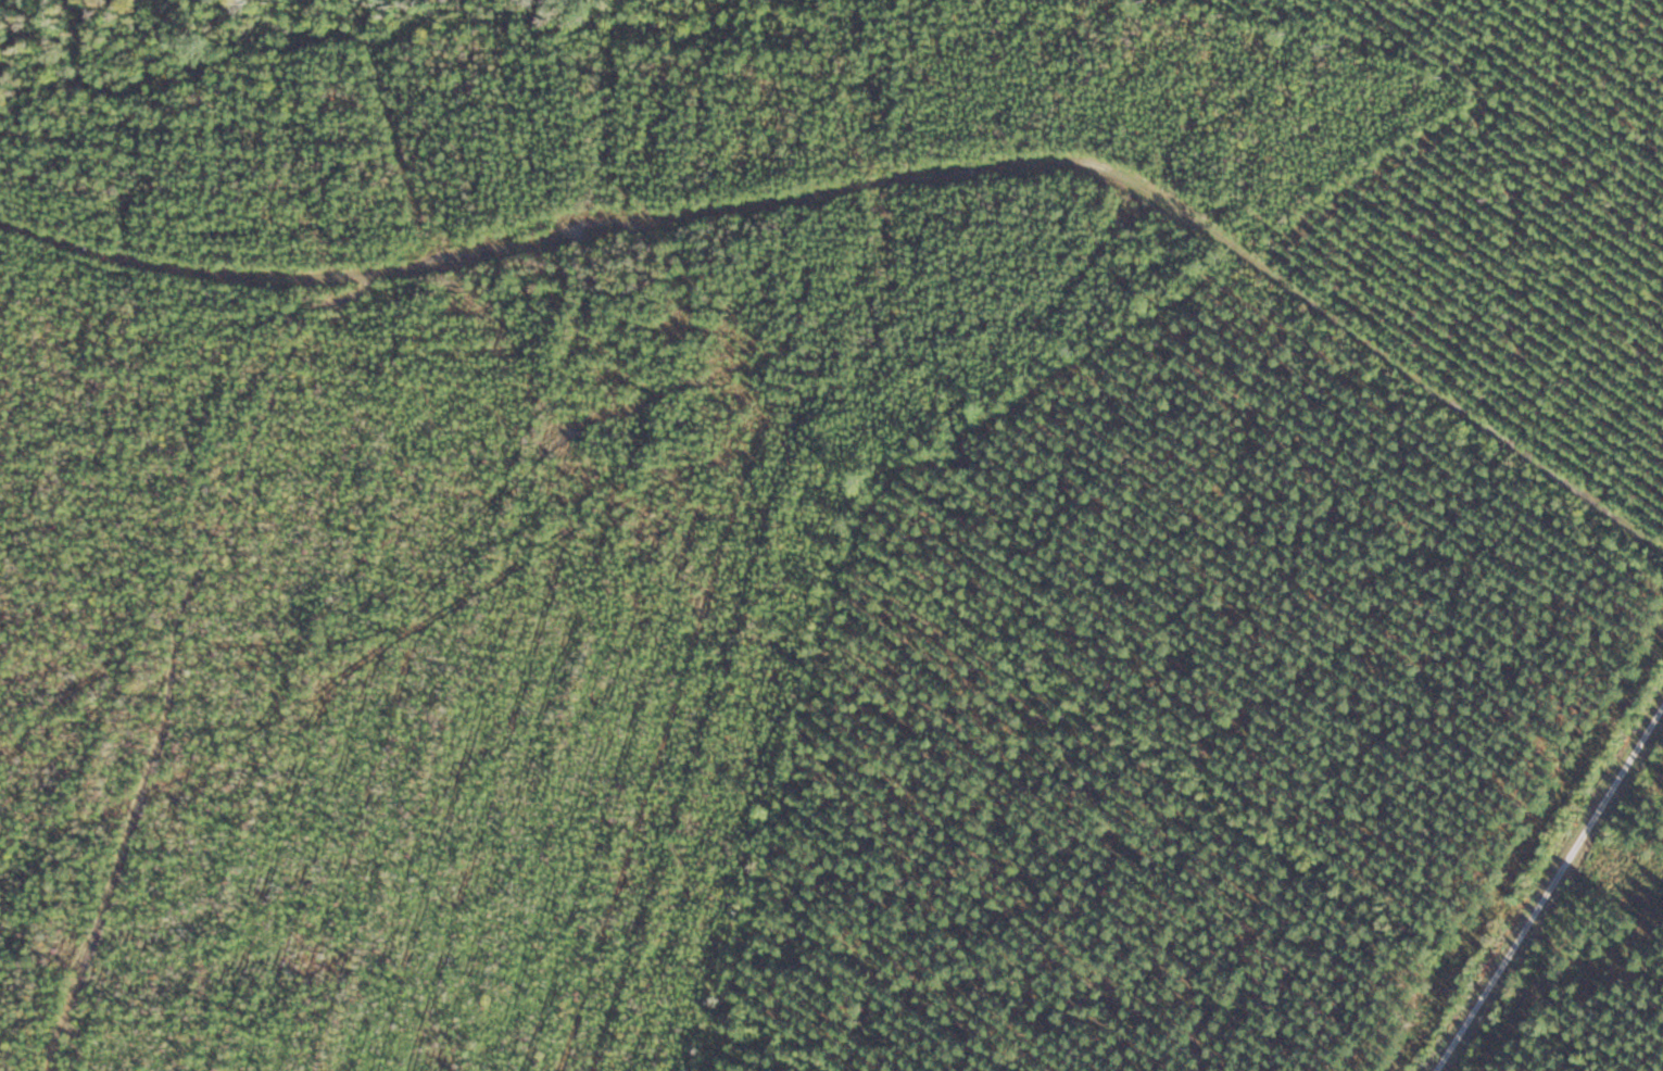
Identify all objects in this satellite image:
road: (1548, 887)

